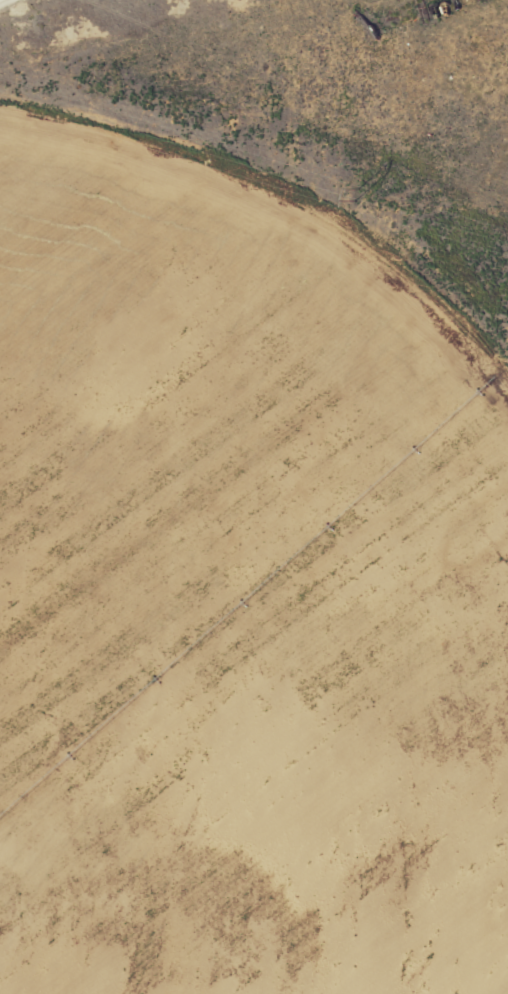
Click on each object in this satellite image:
road: (0, 0)
power tower: (358, 194)

